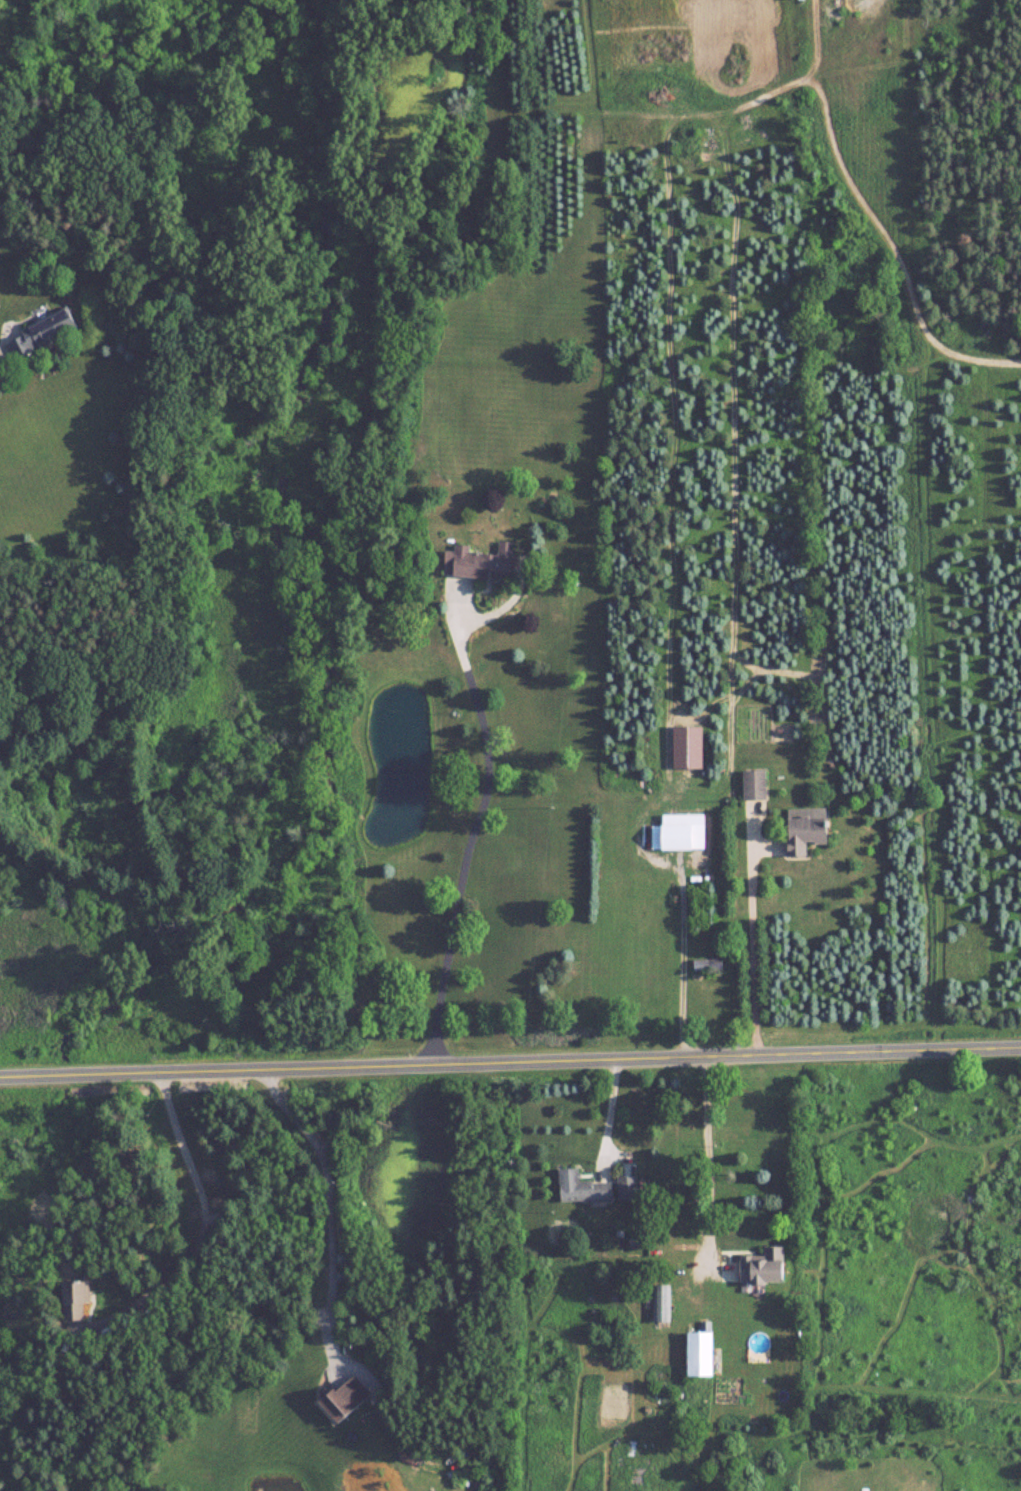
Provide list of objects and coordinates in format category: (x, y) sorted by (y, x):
building: (48, 333)
building: (478, 562)
building: (757, 785)
road: (477, 827)
building: (683, 832)
building: (809, 834)
road: (751, 946)
road: (681, 961)
building: (706, 964)
road: (510, 1064)
road: (609, 1115)
road: (707, 1160)
building: (581, 1187)
building: (626, 1187)
building: (673, 1187)
road: (326, 1204)
building: (679, 1225)
road: (199, 1227)
building: (728, 1271)
building: (79, 1299)
building: (661, 1302)
building: (703, 1352)
building: (348, 1398)

